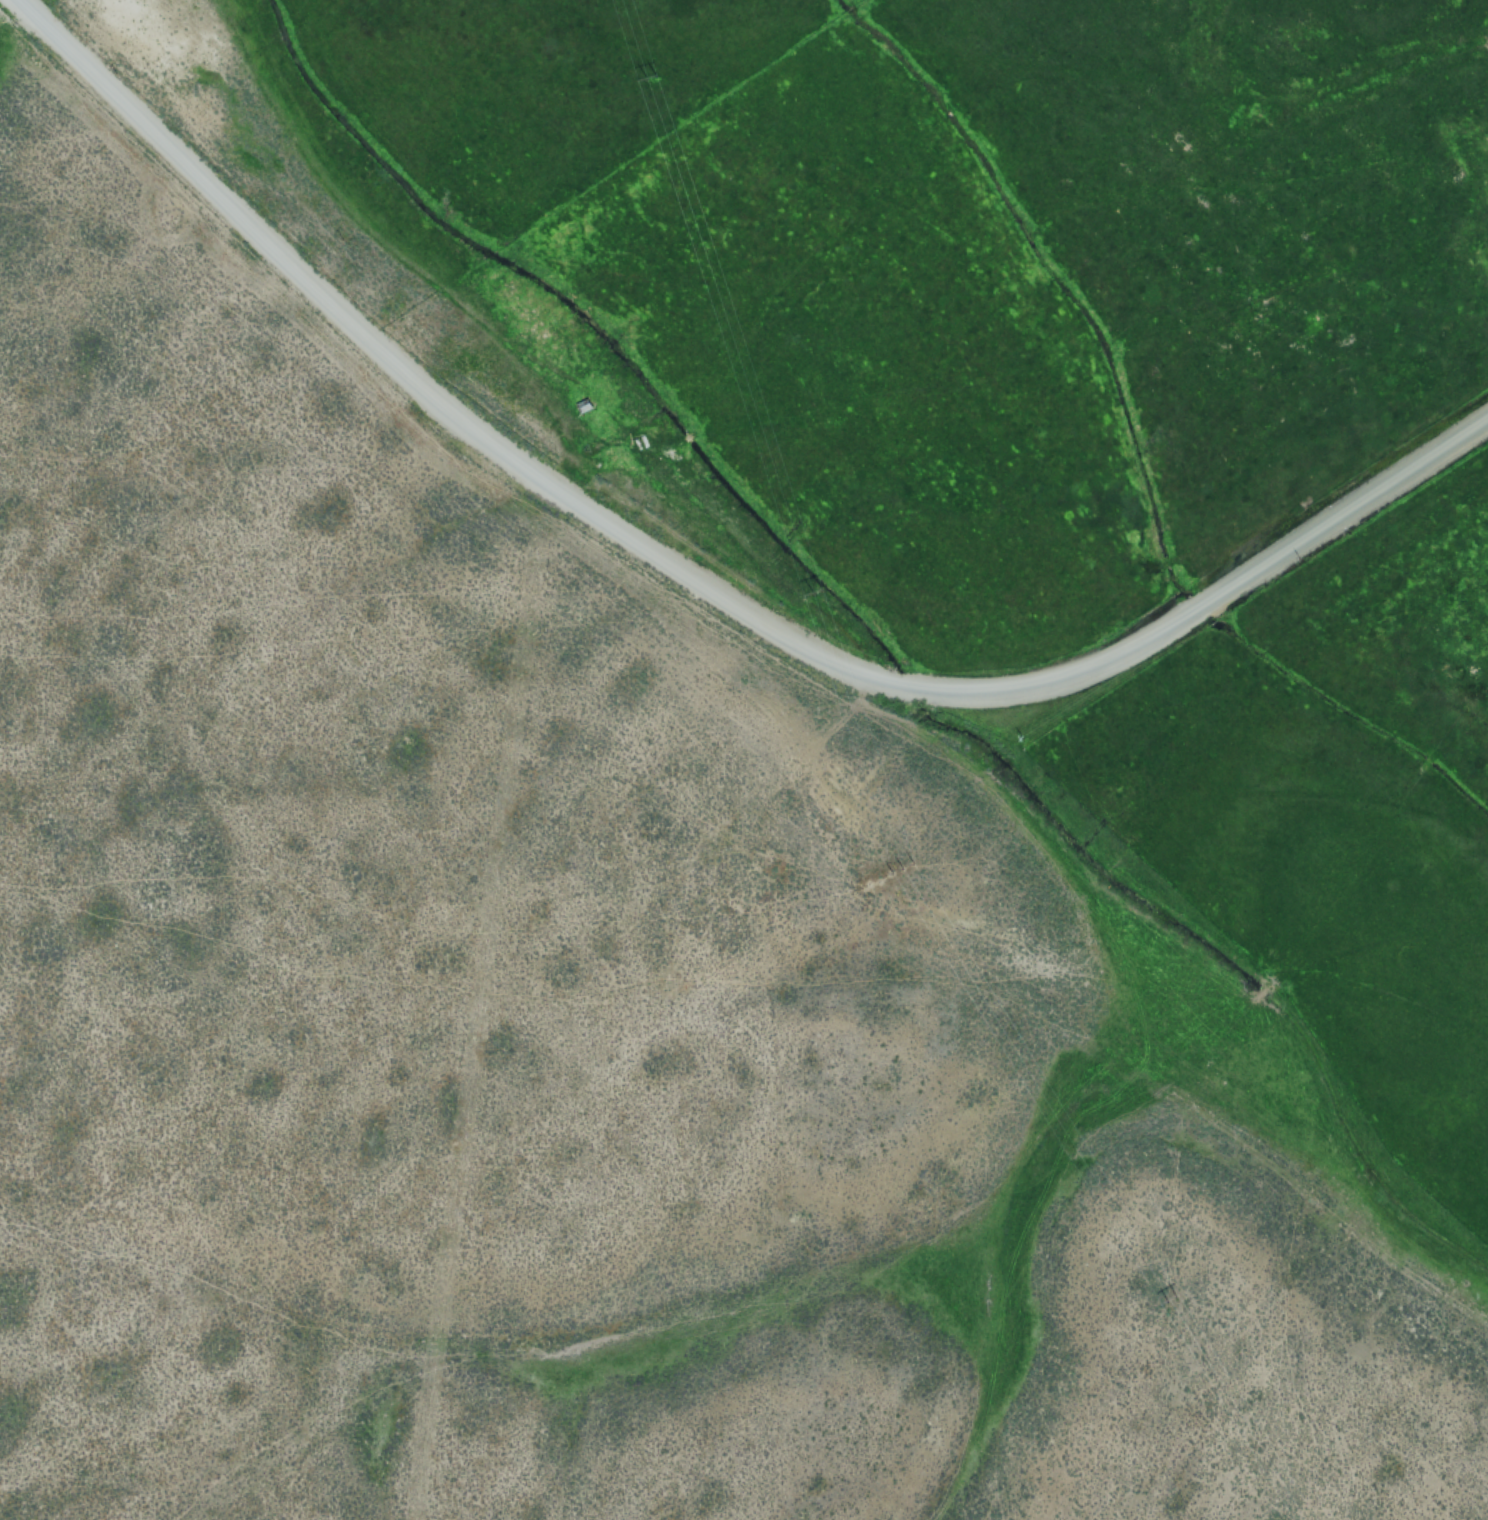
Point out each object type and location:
power tower: (641, 83)
power tower: (804, 594)
road: (690, 642)
power tower: (892, 873)
power tower: (1162, 1301)

